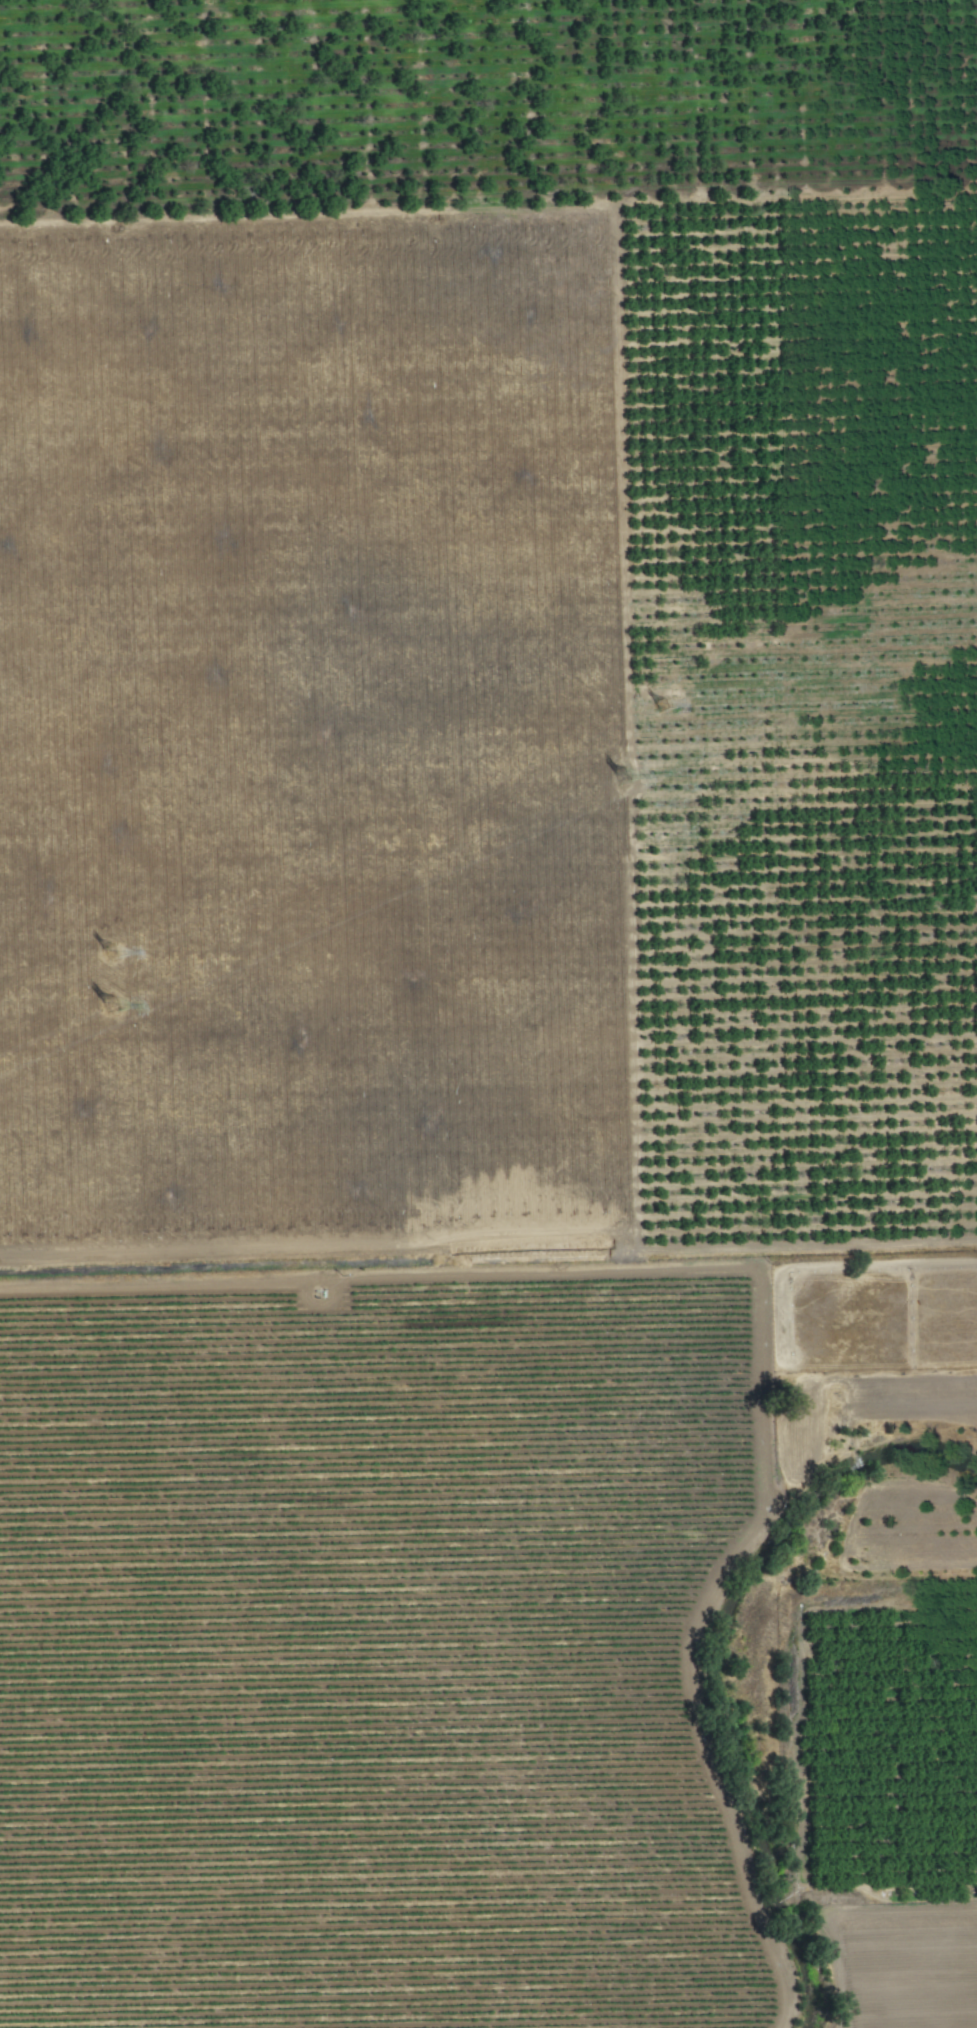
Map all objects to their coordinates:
power tower: (659, 709)
power tower: (616, 780)
power tower: (105, 957)
power tower: (110, 1007)

